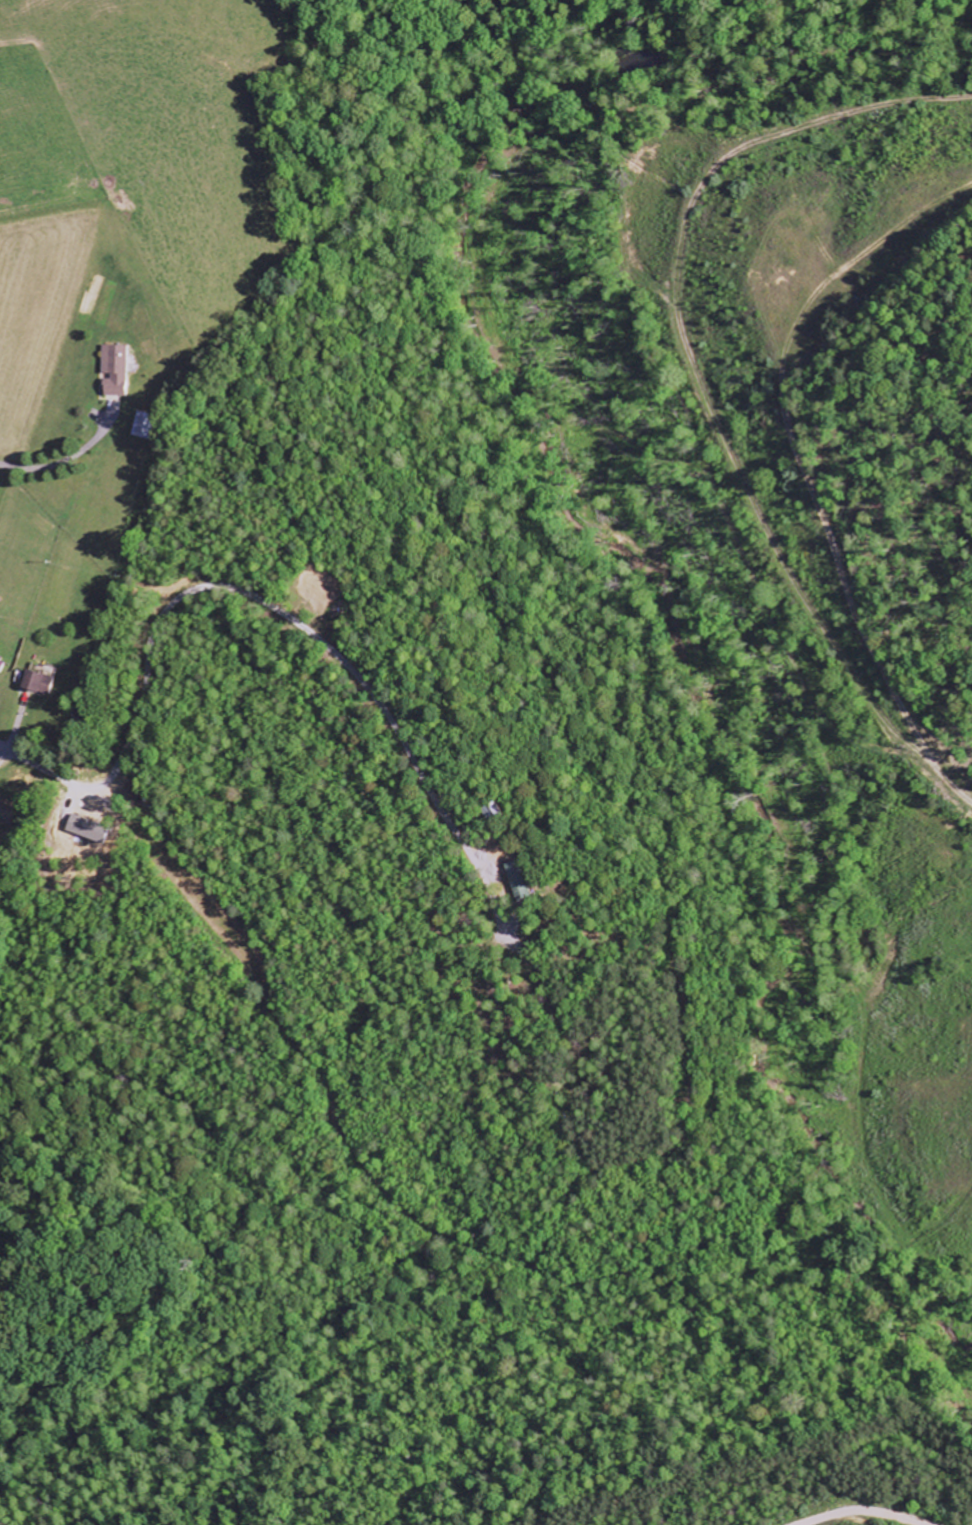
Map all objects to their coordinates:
building: (112, 370)
building: (0, 659)
building: (34, 682)
road: (26, 759)
building: (518, 881)

